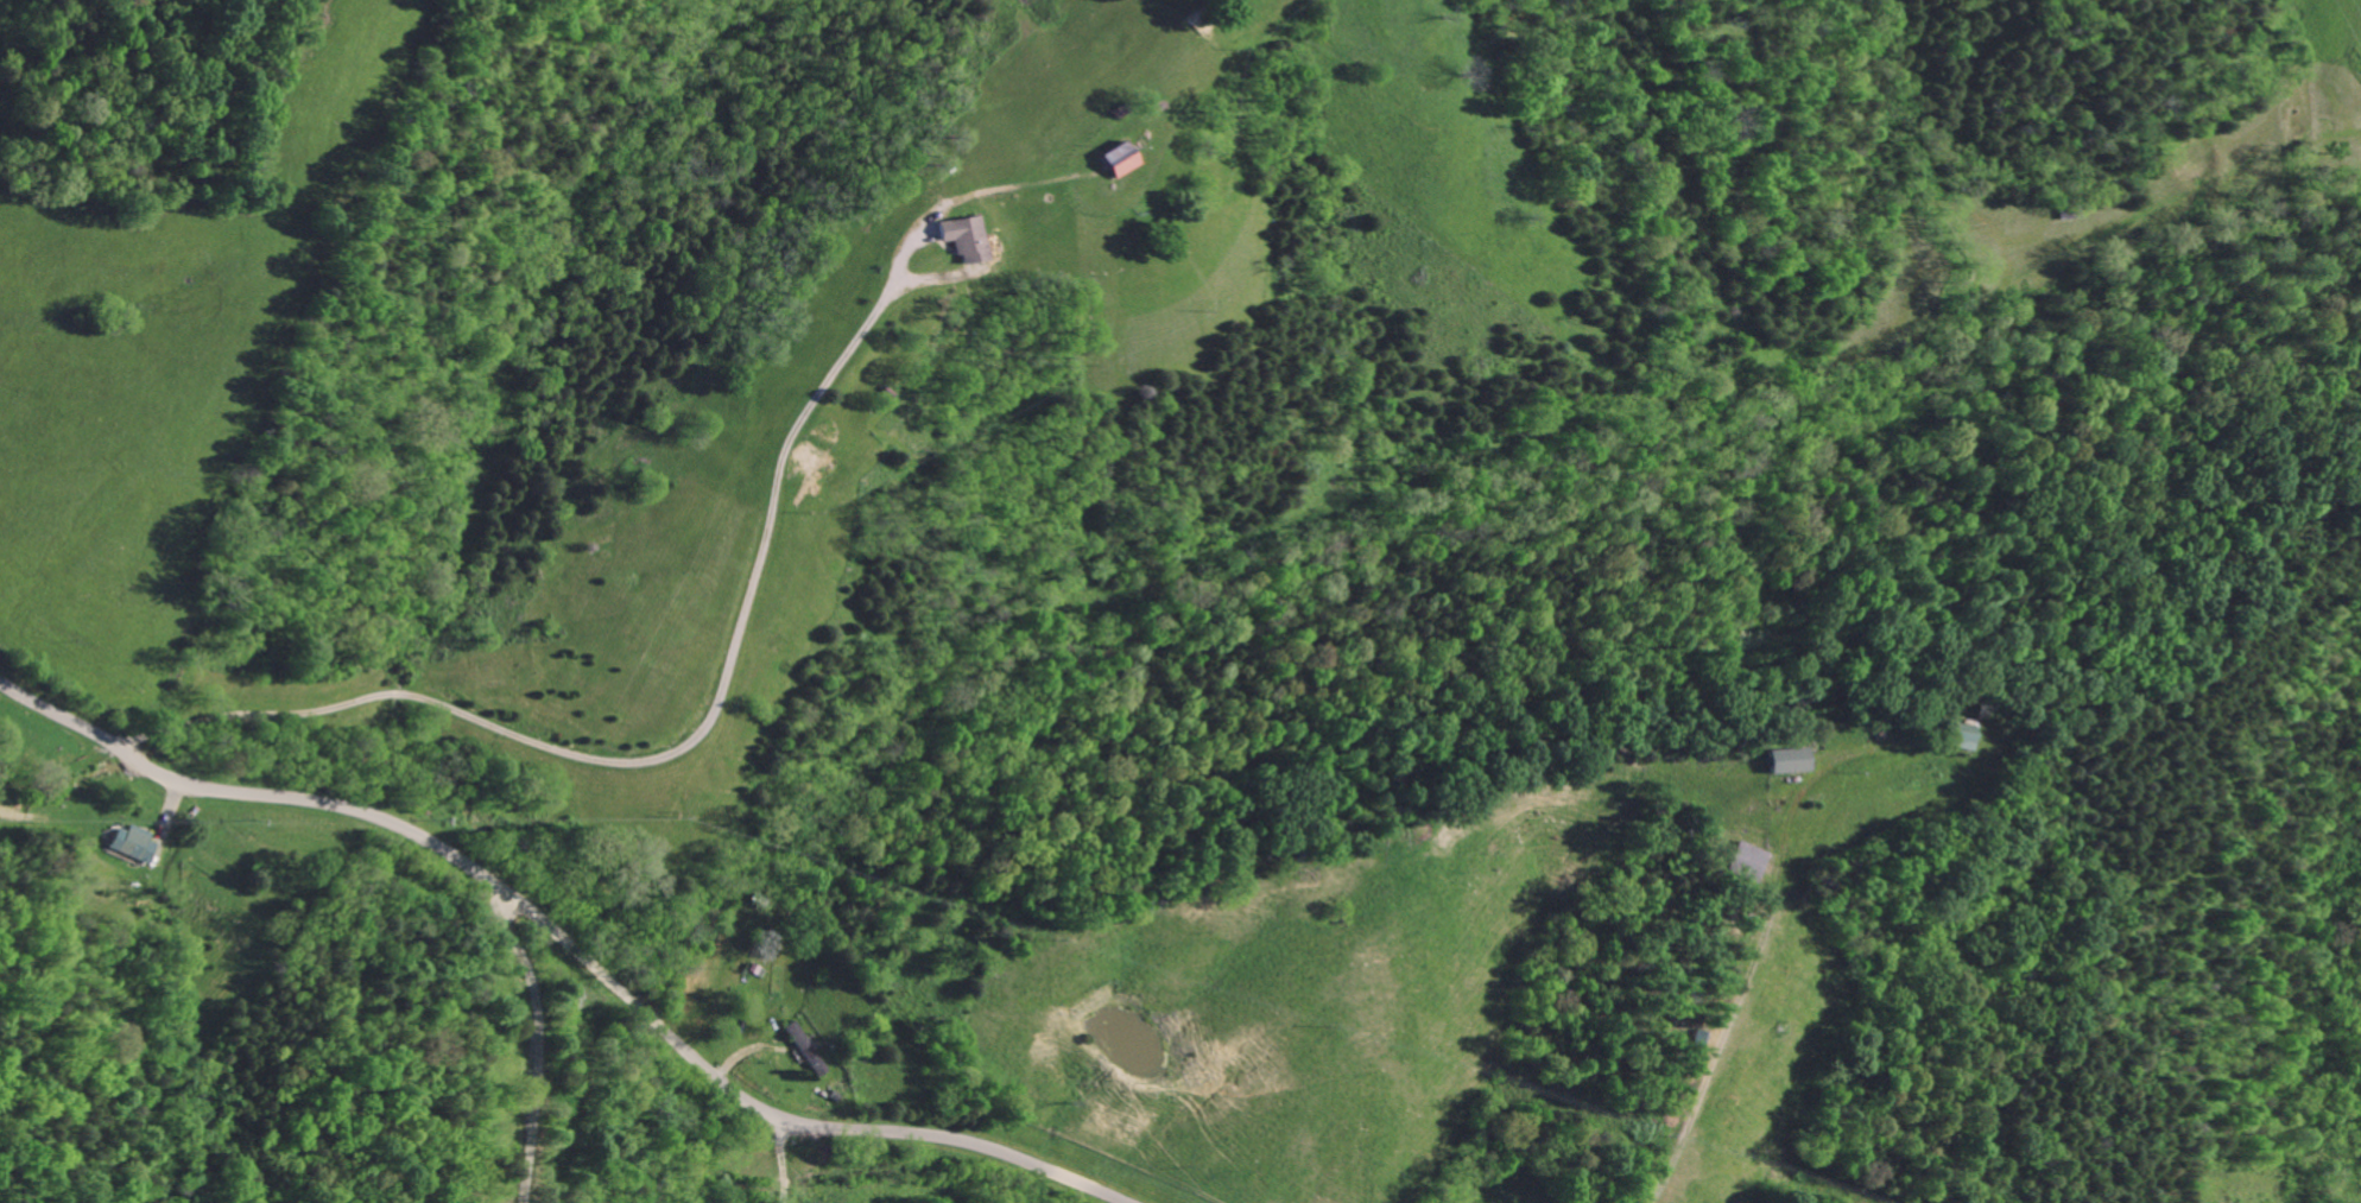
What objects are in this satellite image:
road: (1204, 14)
building: (1119, 159)
building: (2068, 214)
building: (967, 238)
building: (805, 461)
building: (1958, 745)
road: (640, 758)
building: (1786, 762)
building: (132, 842)
building: (1742, 861)
road: (565, 942)
road: (1755, 942)
road: (526, 1044)
building: (804, 1049)
road: (779, 1159)

